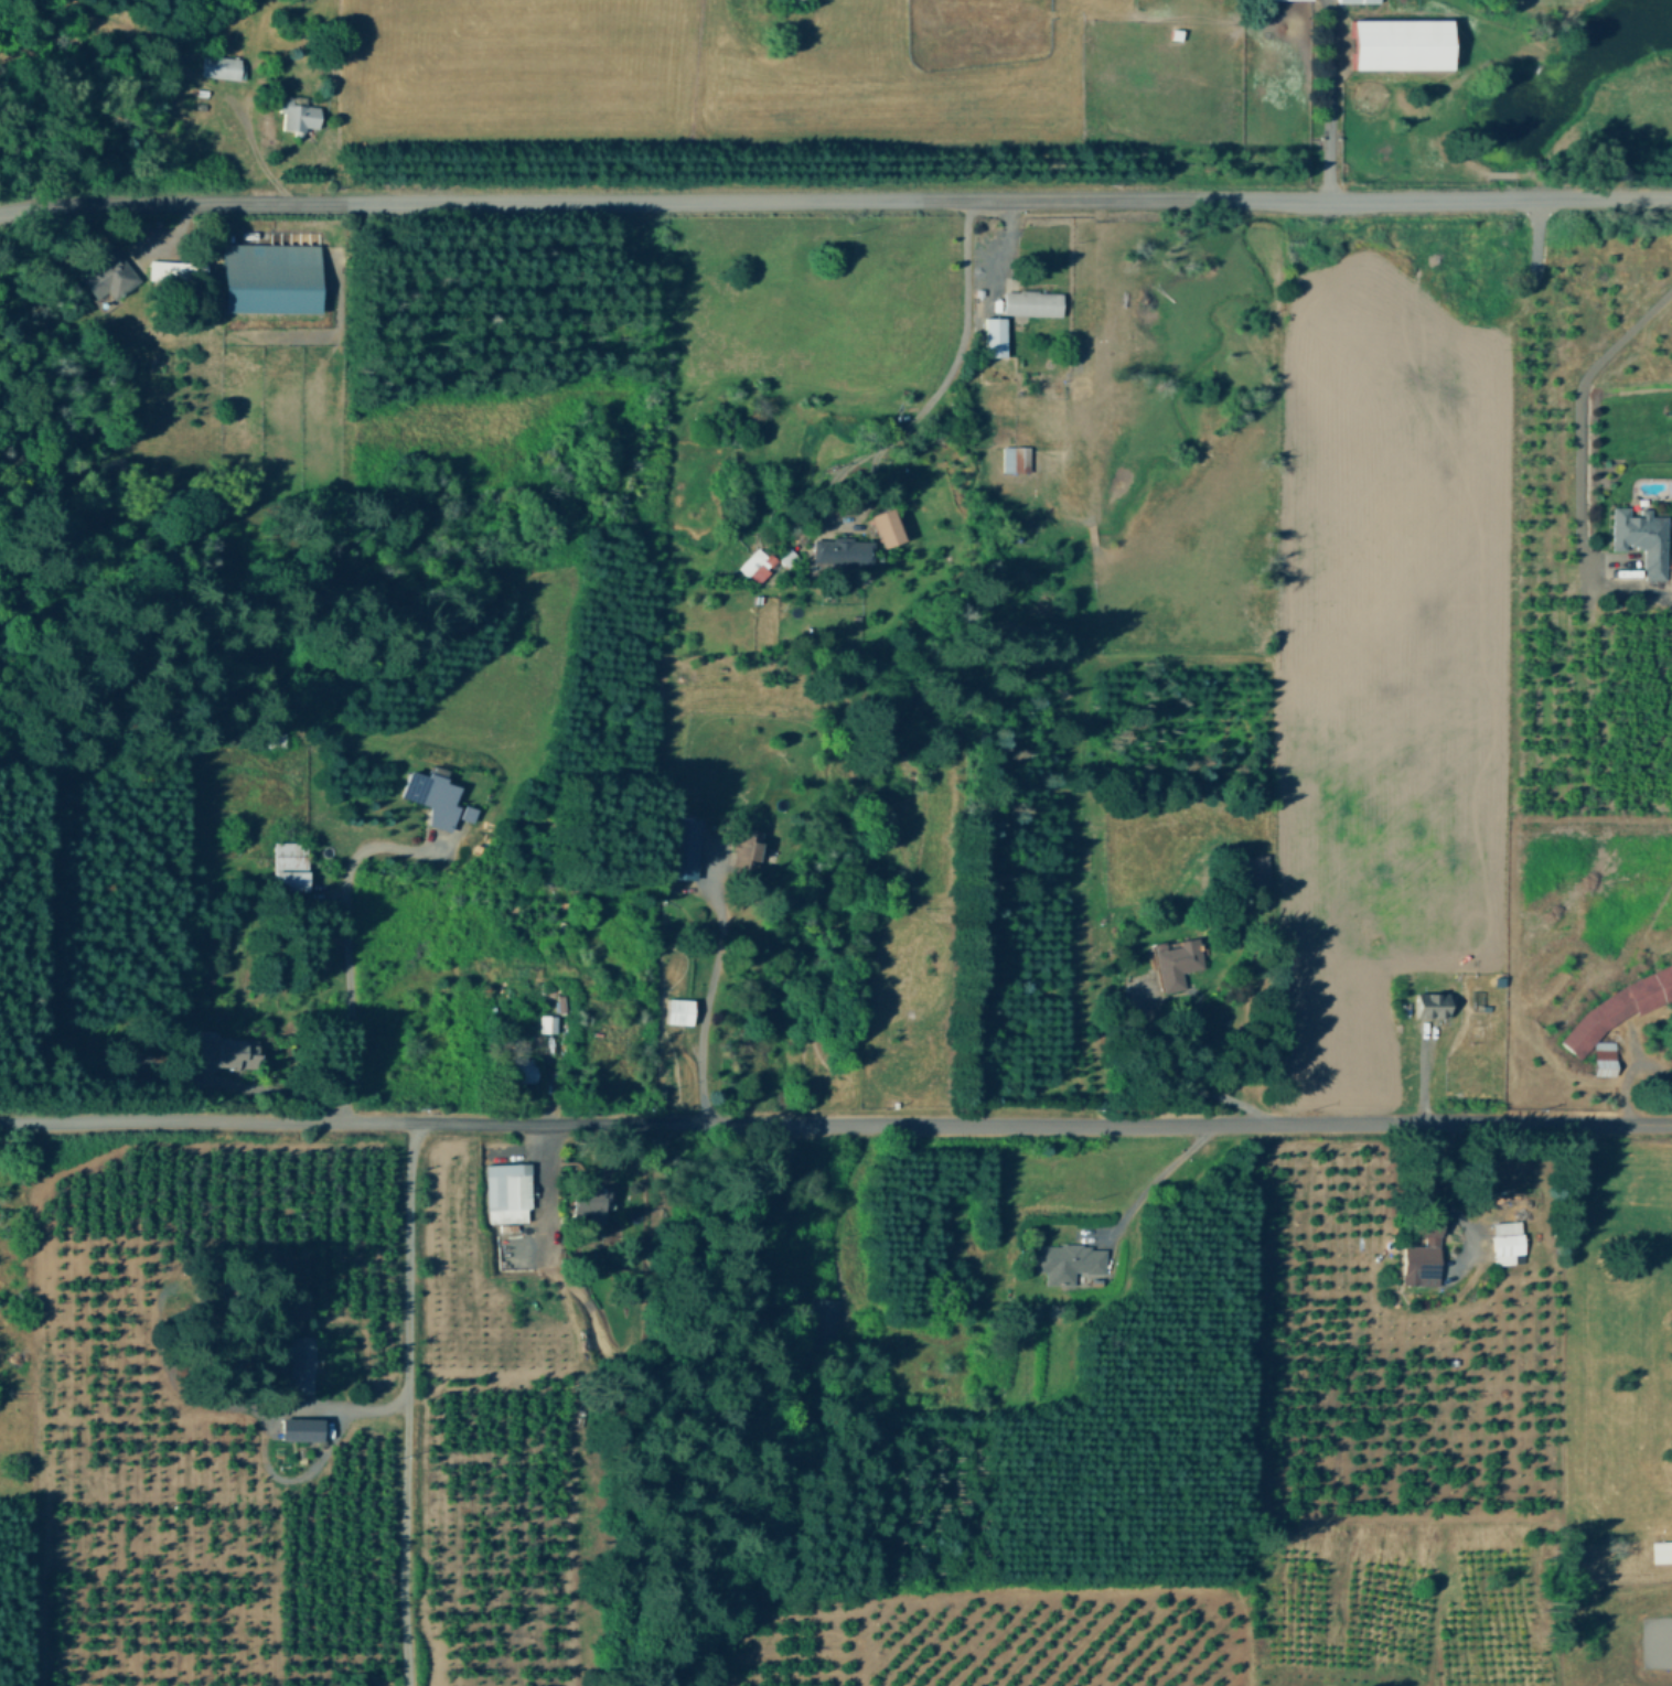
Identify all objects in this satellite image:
building: (1361, 0)
building: (1403, 43)
building: (222, 65)
crop: (926, 72)
crop: (1591, 84)
road: (1340, 99)
building: (301, 115)
road: (835, 201)
road: (139, 236)
building: (174, 267)
building: (110, 275)
building: (270, 276)
building: (1033, 301)
building: (996, 334)
road: (955, 362)
road: (1571, 412)
building: (1017, 457)
building: (888, 525)
building: (1643, 536)
building: (843, 548)
building: (758, 562)
building: (436, 795)
building: (685, 846)
building: (746, 846)
building: (290, 865)
road: (341, 949)
building: (1178, 960)
road: (711, 996)
building: (1434, 1003)
building: (680, 1010)
building: (548, 1022)
building: (223, 1051)
building: (1605, 1056)
building: (526, 1068)
road: (1168, 1074)
road: (279, 1082)
road: (835, 1123)
road: (1156, 1169)
road: (548, 1188)
building: (510, 1191)
road: (1447, 1195)
building: (591, 1196)
road: (843, 1209)
building: (1507, 1239)
building: (1424, 1254)
building: (1070, 1259)
crop: (1610, 1327)
building: (298, 1362)
road: (407, 1403)
building: (301, 1427)
road: (258, 1431)
building: (1661, 1550)

